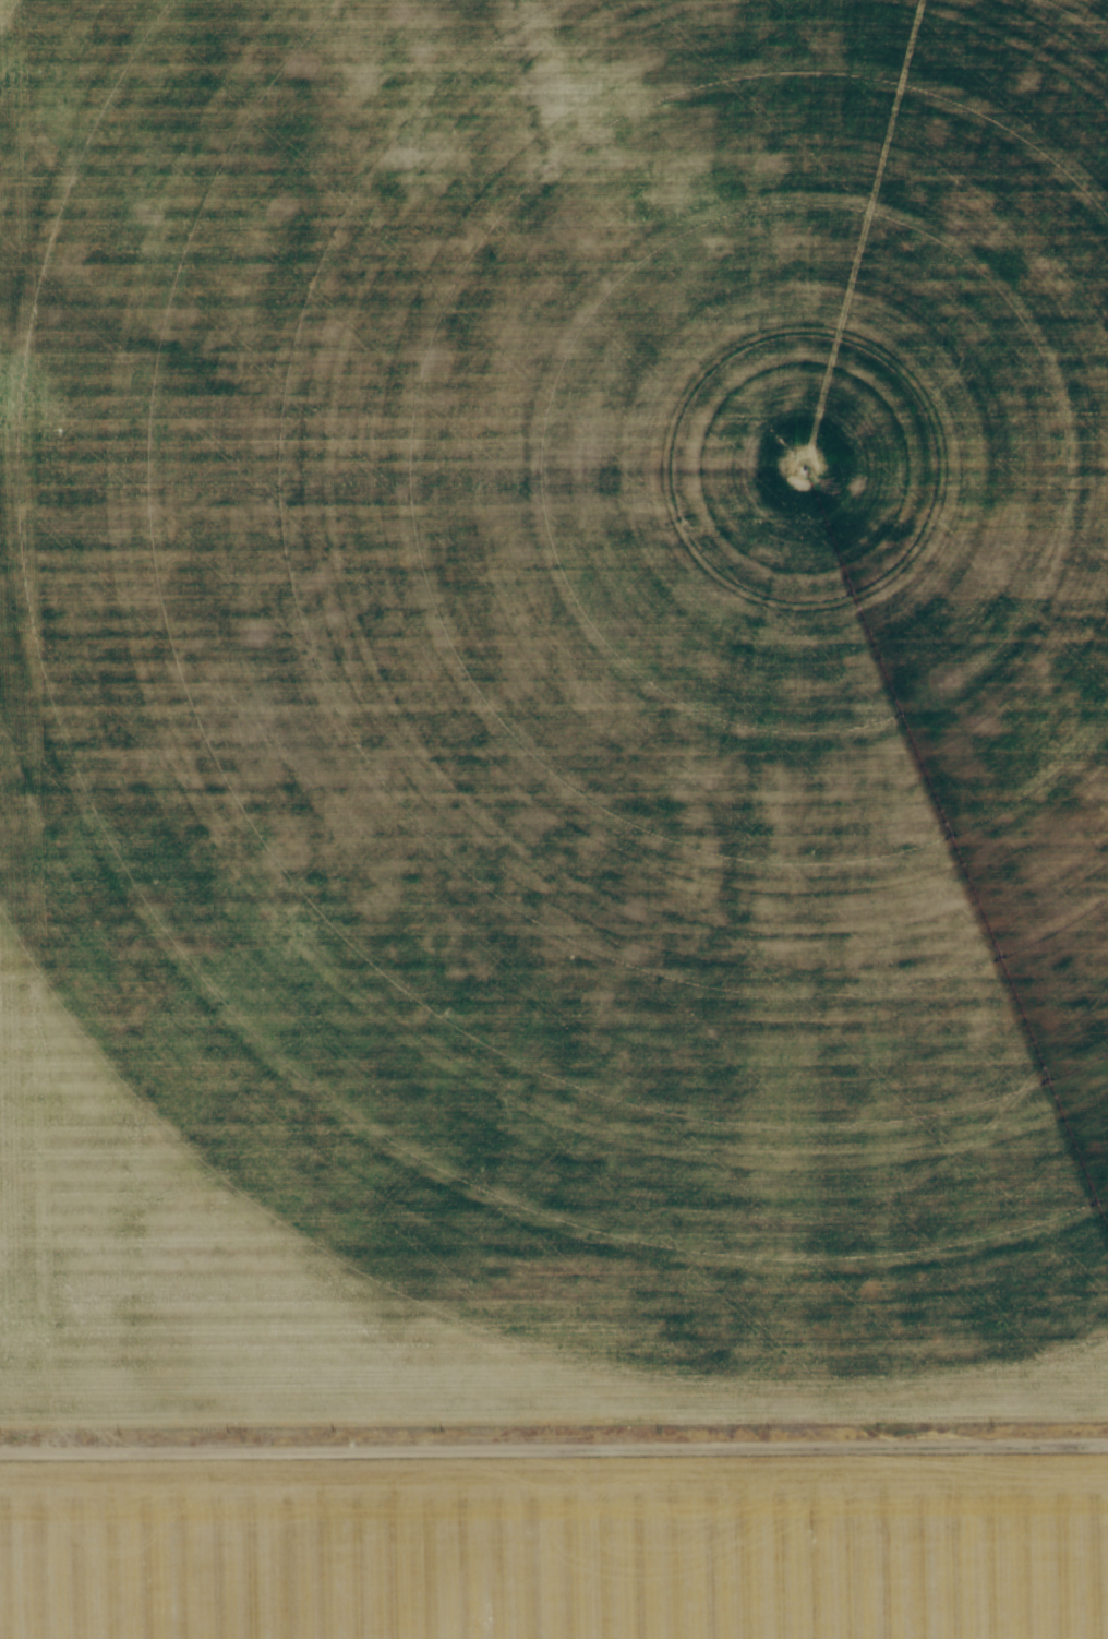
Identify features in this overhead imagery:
road: (554, 1450)
crop: (557, 1547)

